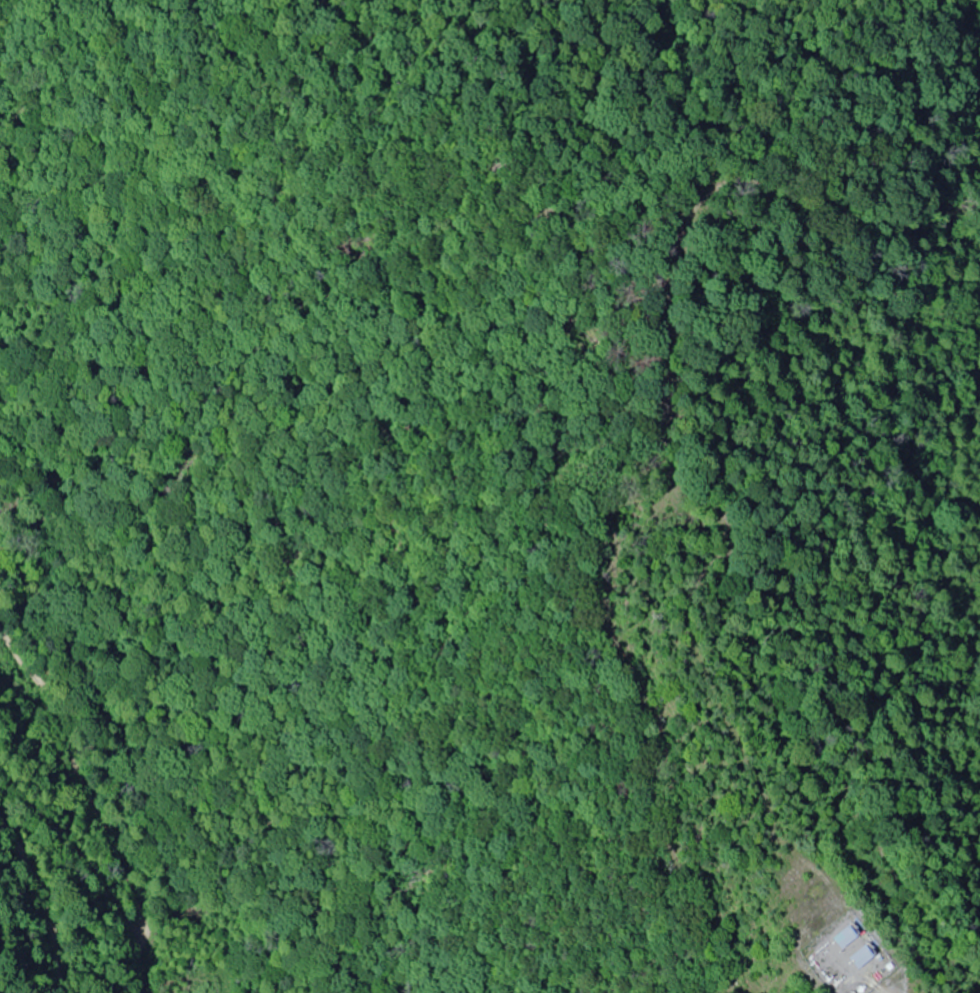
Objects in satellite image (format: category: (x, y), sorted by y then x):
building: (844, 937)
building: (859, 958)

